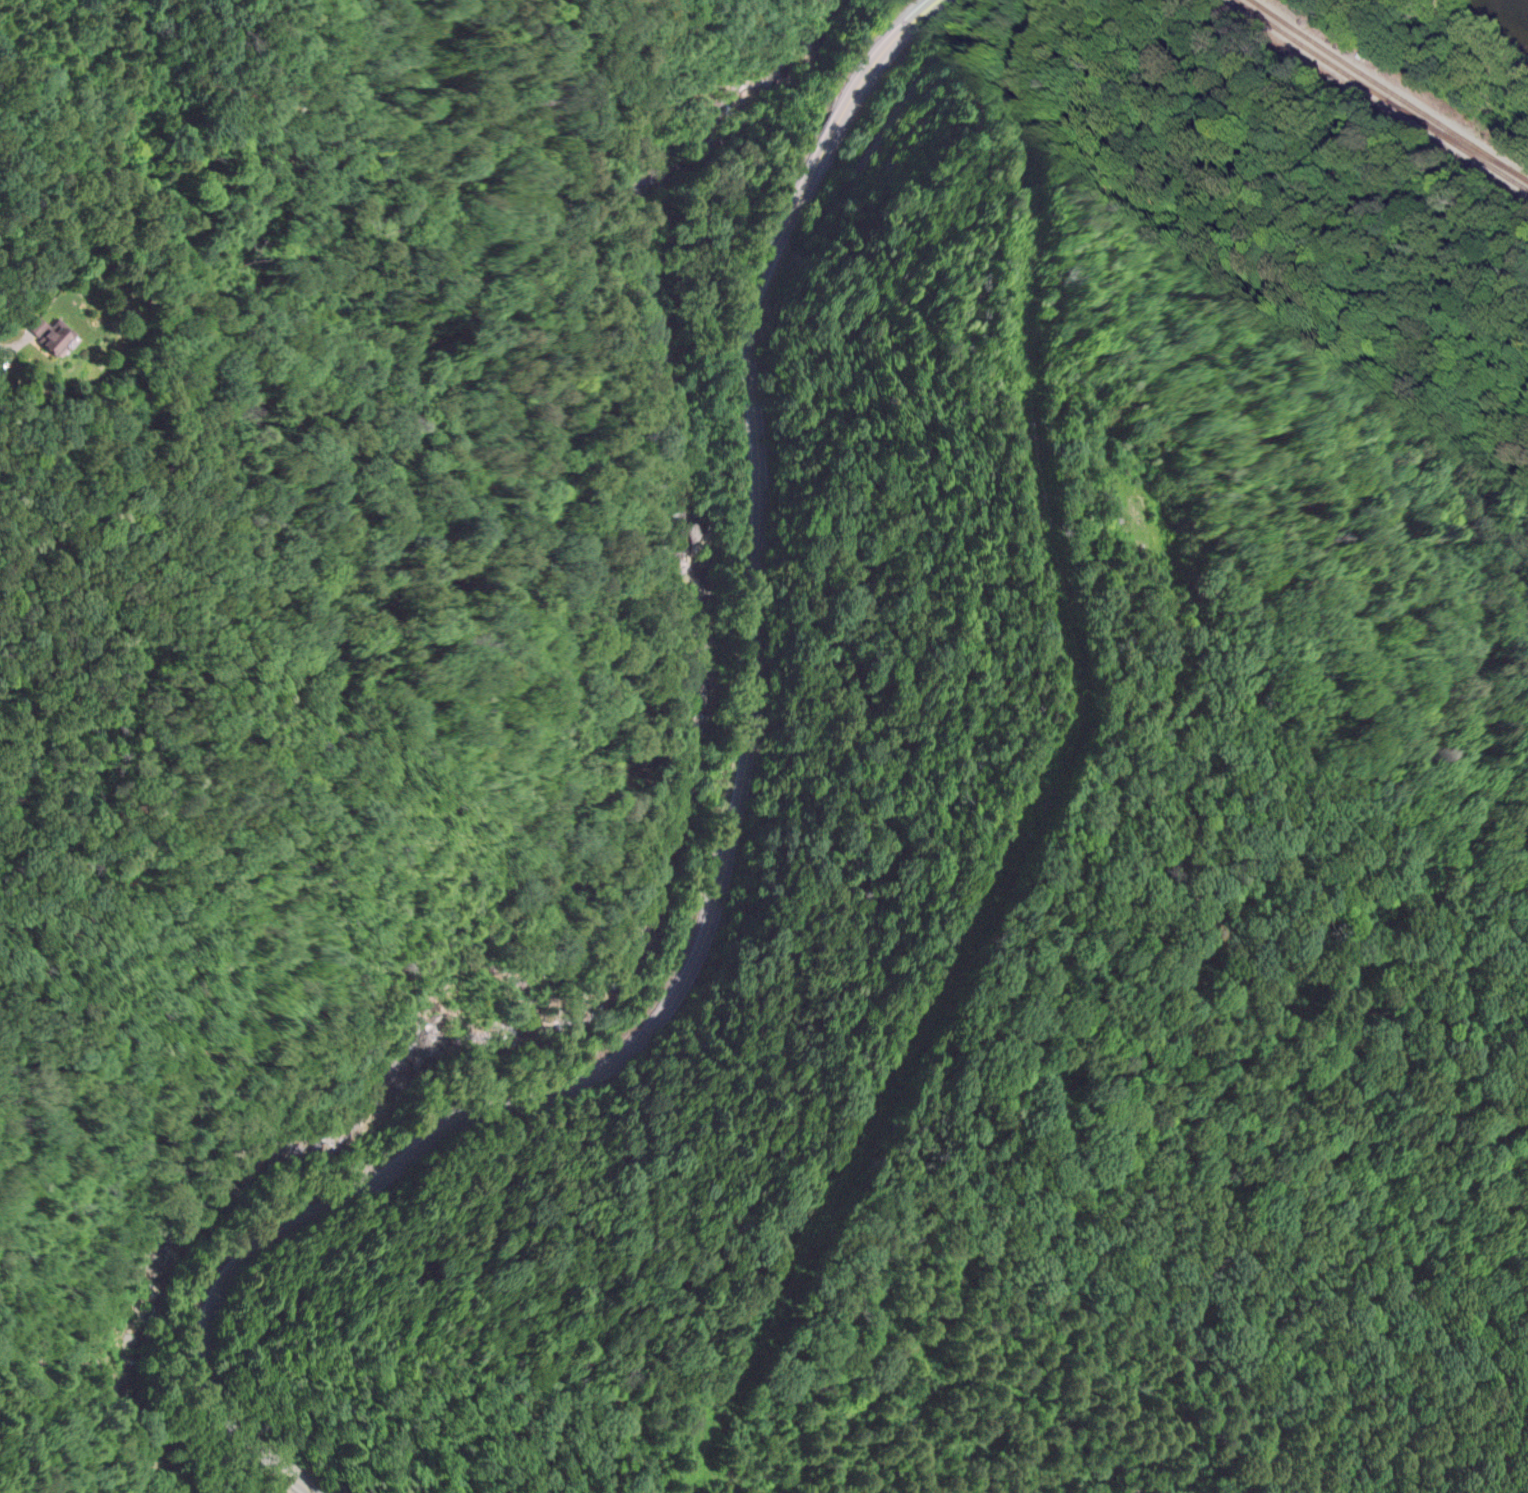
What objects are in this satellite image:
railway: (1295, 38)
railway: (1383, 84)
railway: (1432, 123)
railway: (1440, 134)
railway: (1520, 174)
building: (49, 335)
road: (719, 876)
road: (70, 1421)

